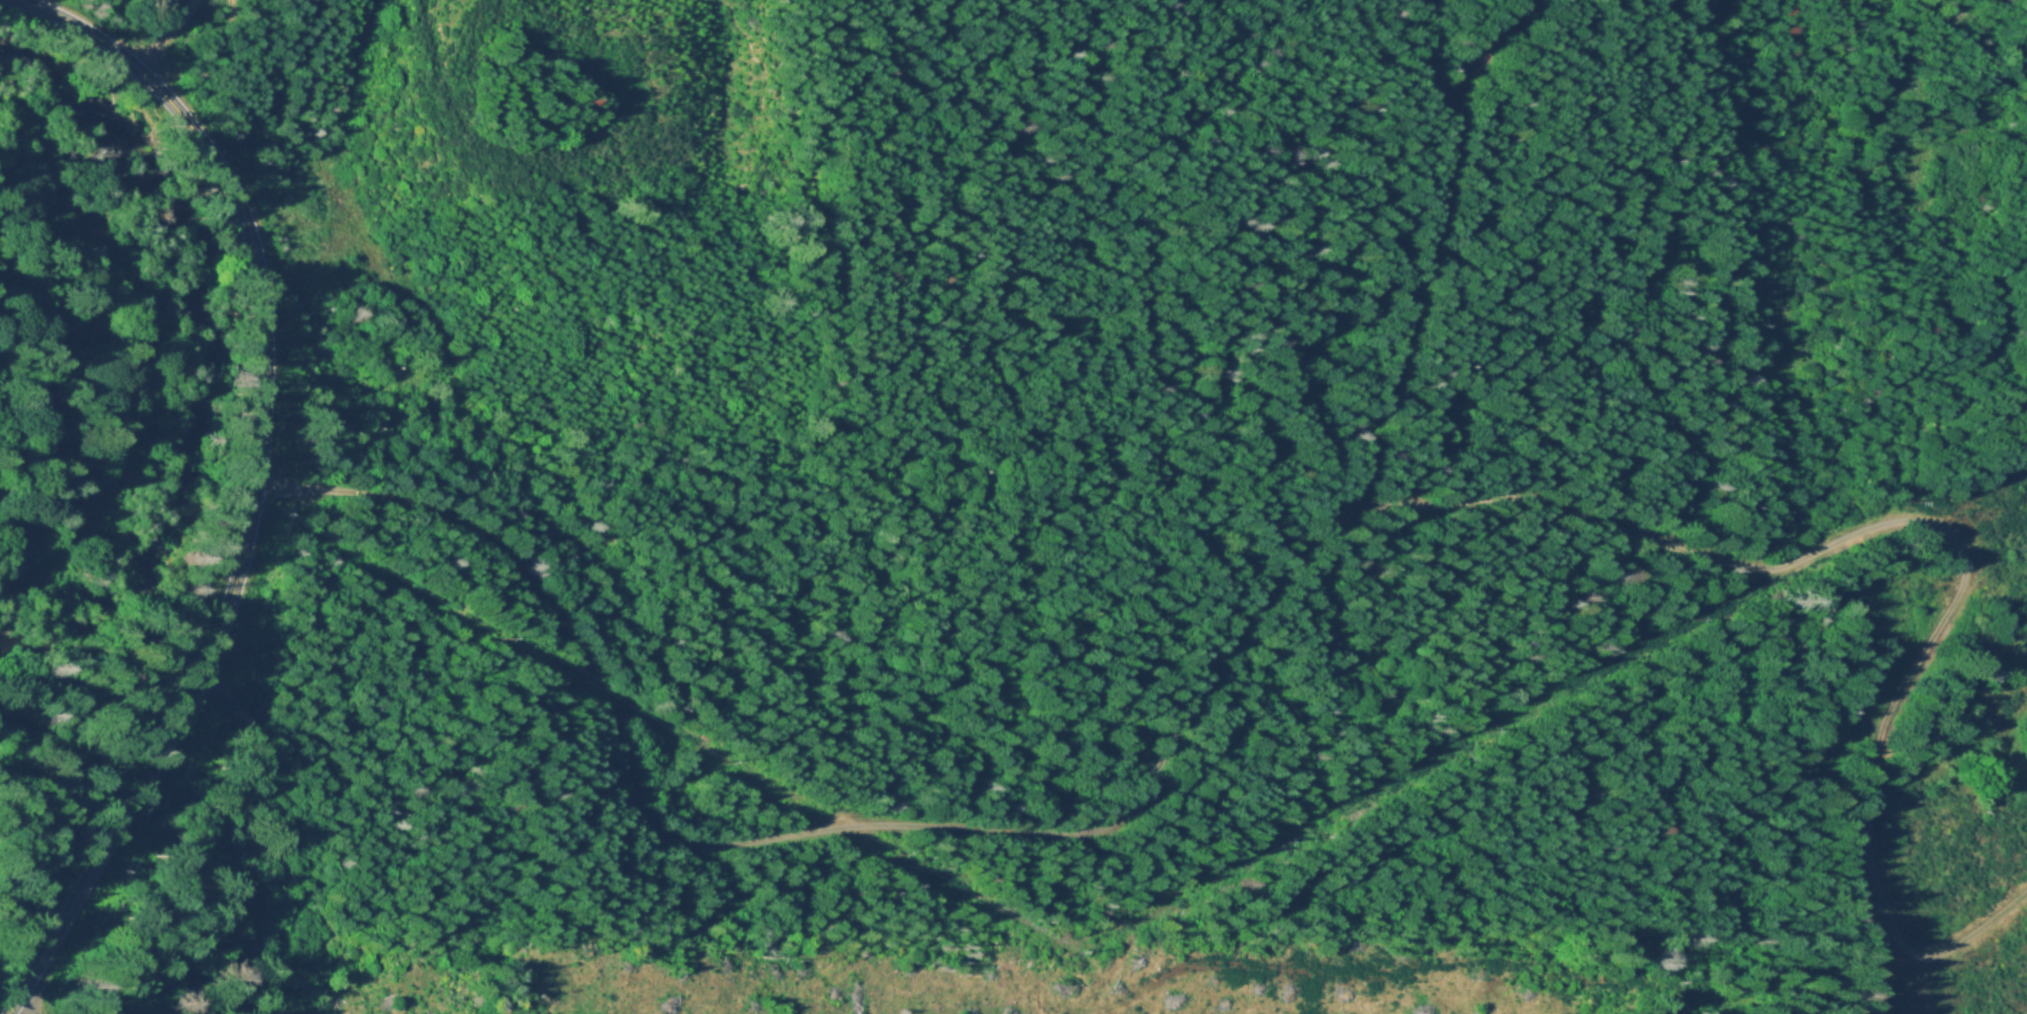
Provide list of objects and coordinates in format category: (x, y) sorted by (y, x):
road: (165, 33)
road: (464, 121)
road: (1413, 250)
river: (211, 374)
road: (255, 484)
road: (1996, 524)
road: (1246, 598)
road: (254, 746)
road: (1981, 922)
road: (269, 948)
road: (27, 1003)

